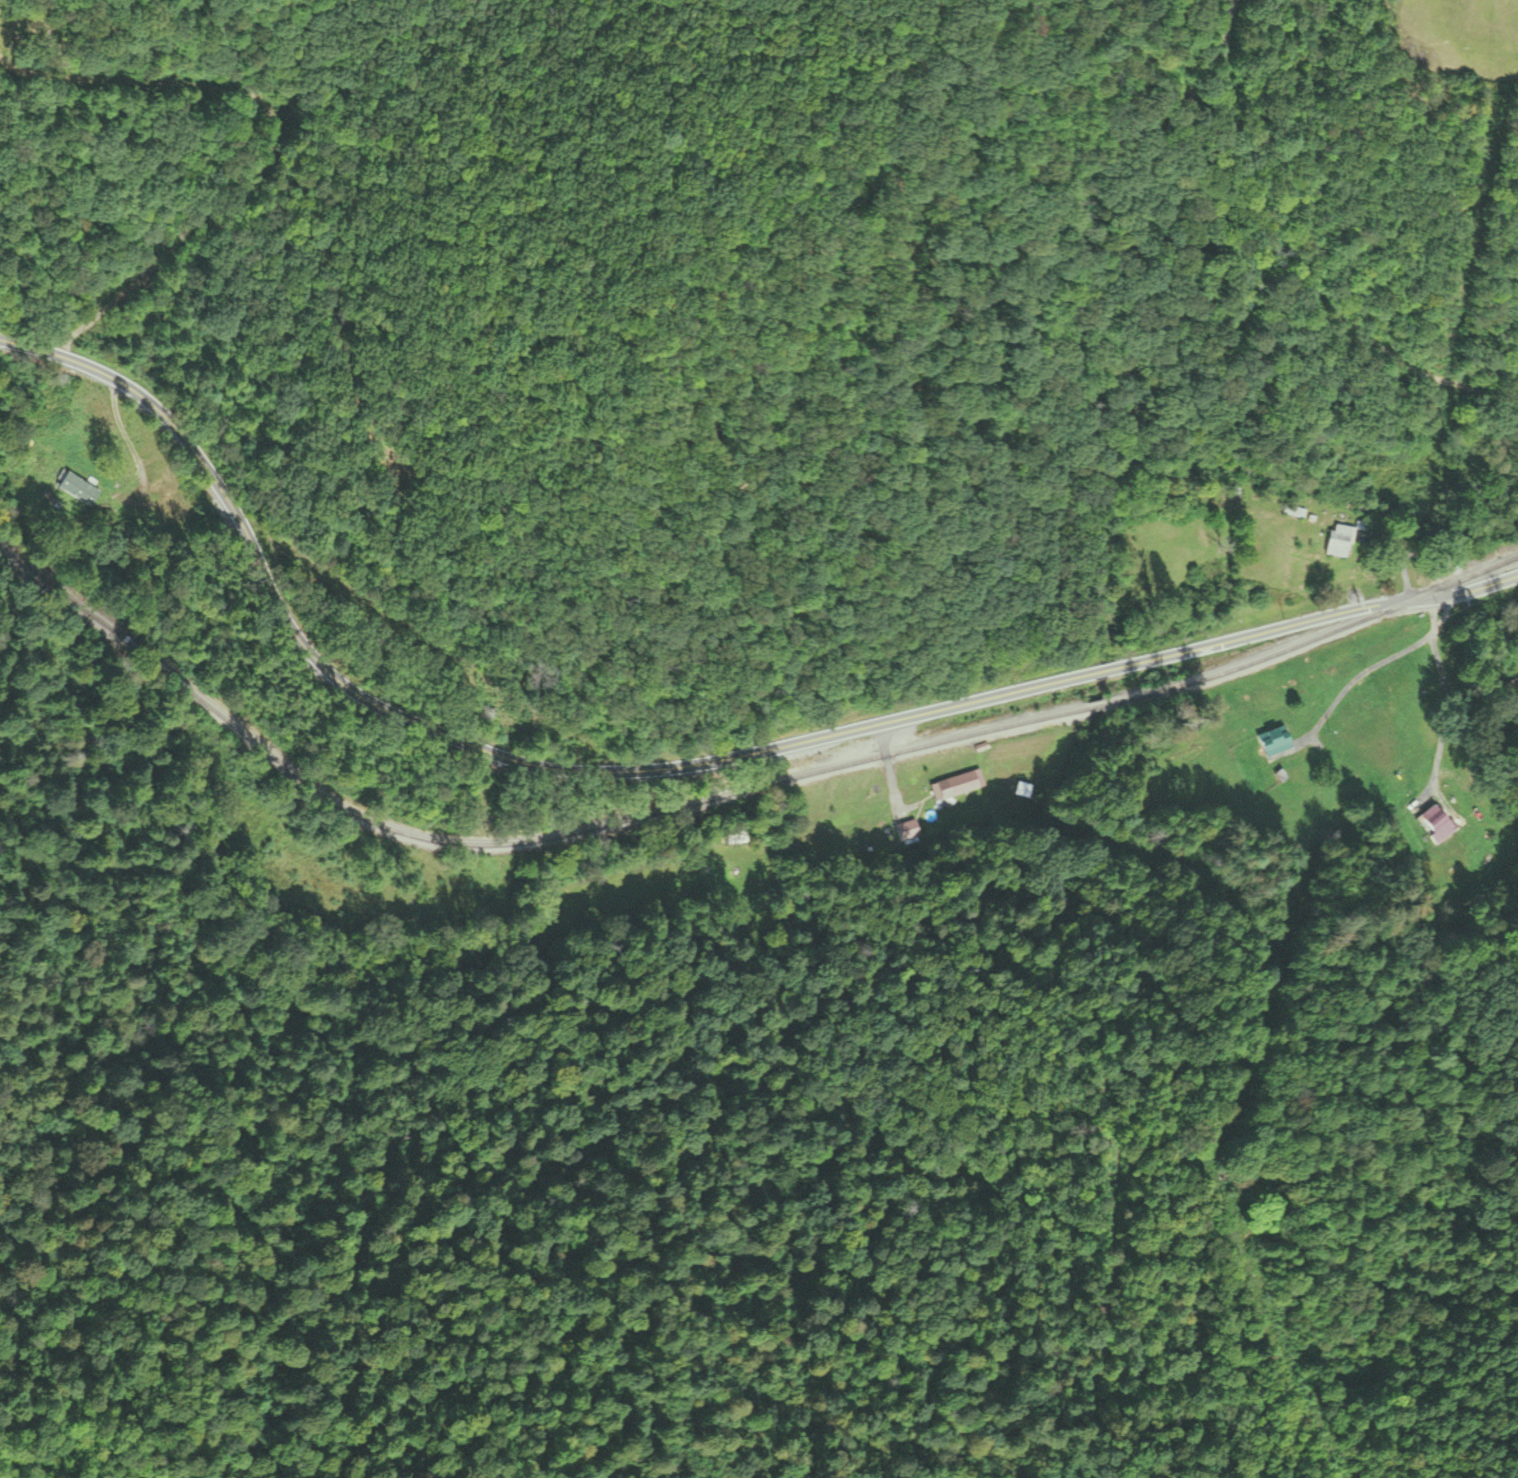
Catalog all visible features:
road: (1302, 268)
building: (1193, 478)
building: (76, 489)
building: (1340, 543)
railway: (17, 569)
road: (1466, 592)
building: (1275, 742)
road: (889, 768)
road: (626, 774)
building: (964, 784)
building: (1022, 791)
railway: (728, 793)
building: (1437, 824)
building: (908, 833)
road: (1349, 1417)

